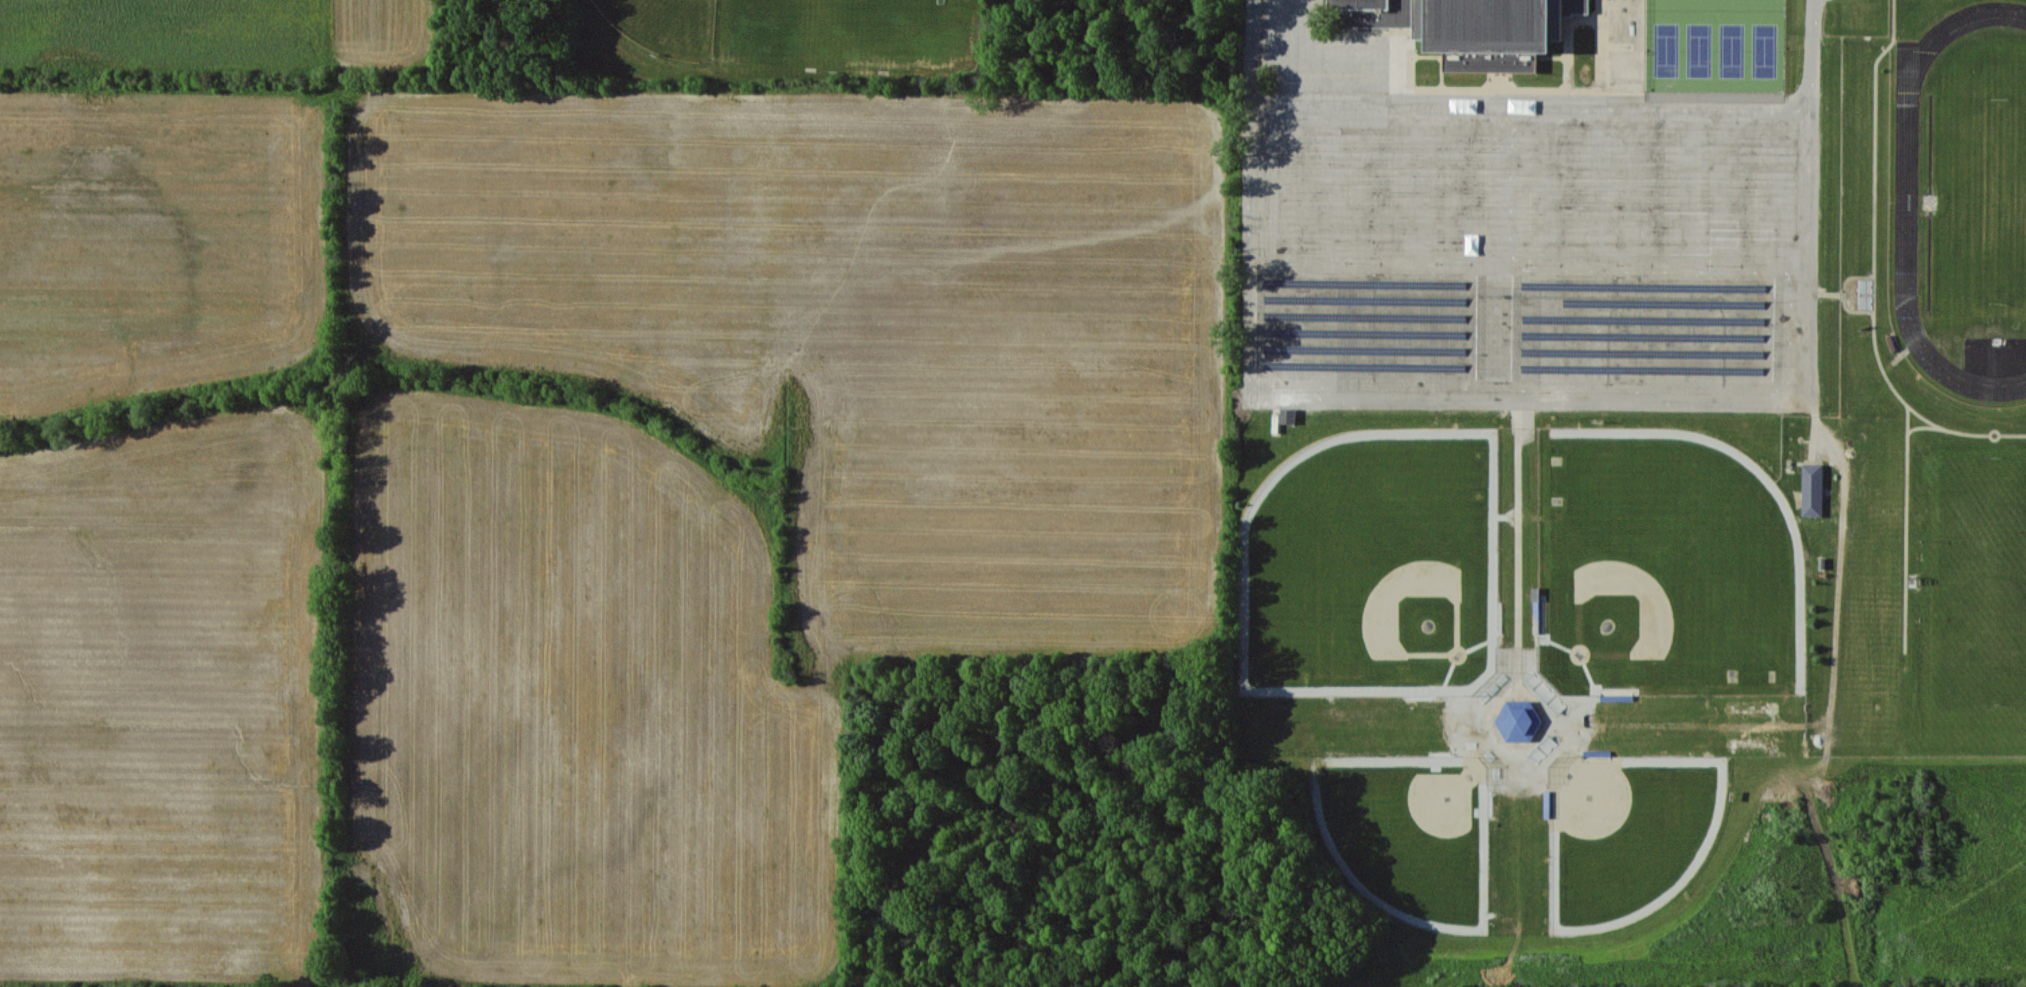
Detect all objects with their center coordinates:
park: (1716, 4)
park: (665, 25)
building: (1469, 28)
park: (1716, 48)
road: (1535, 99)
track: (1907, 200)
road: (1875, 266)
solar farm: (1366, 325)
solar farm: (1643, 327)
road: (1537, 400)
building: (1288, 415)
road: (1924, 426)
building: (1812, 489)
road: (1906, 529)
park: (1667, 566)
park: (1373, 567)
park: (1976, 578)
park: (1410, 832)
park: (1627, 832)

